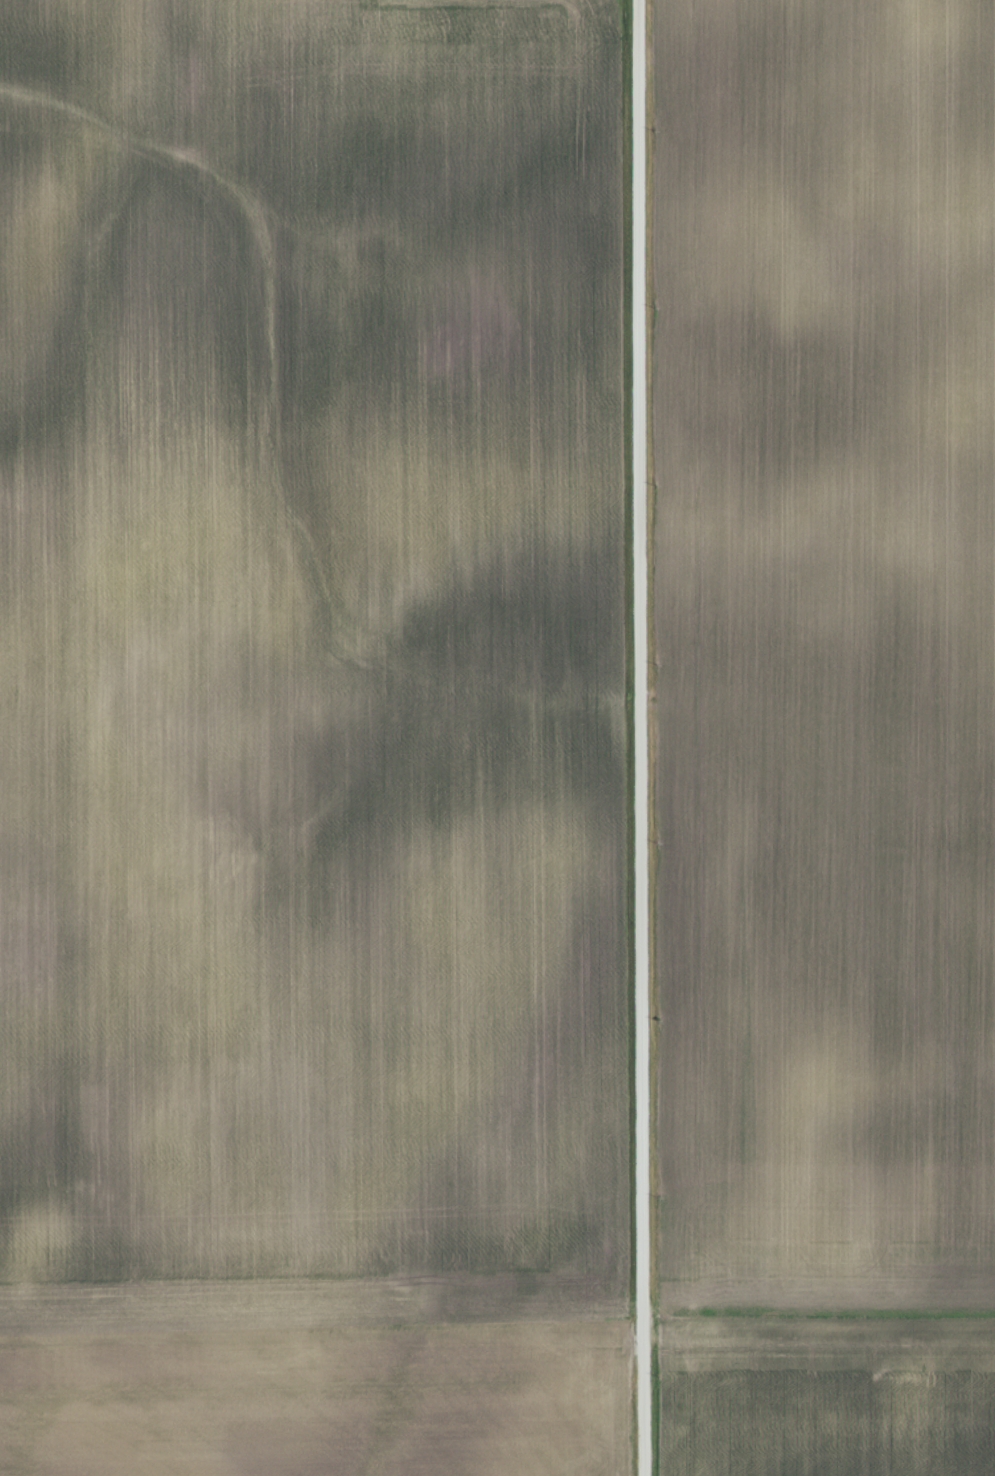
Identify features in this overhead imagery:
road: (640, 737)

